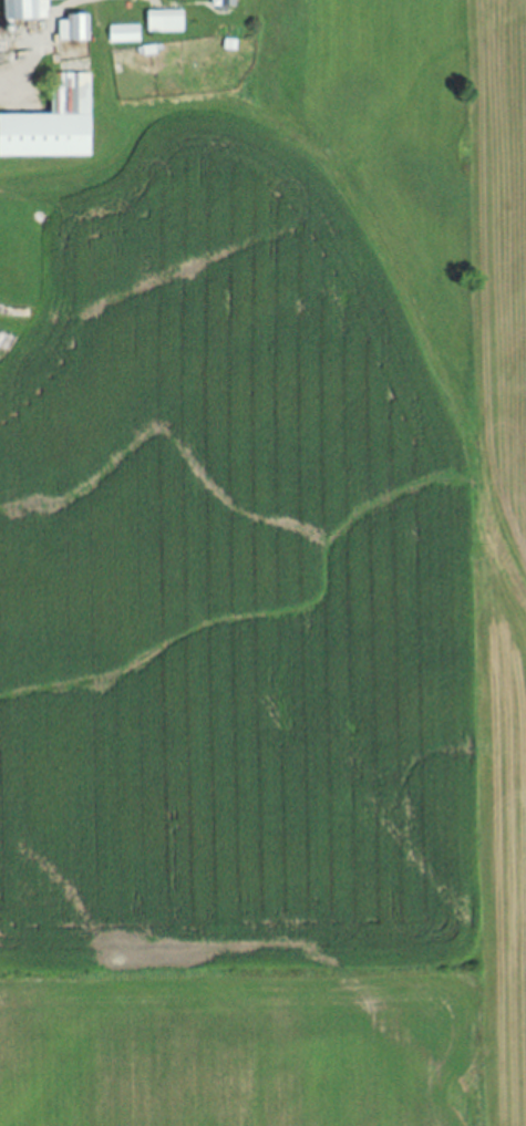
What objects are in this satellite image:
building: (226, 3)
building: (22, 11)
building: (166, 23)
road: (43, 31)
building: (75, 31)
building: (124, 35)
building: (51, 130)

